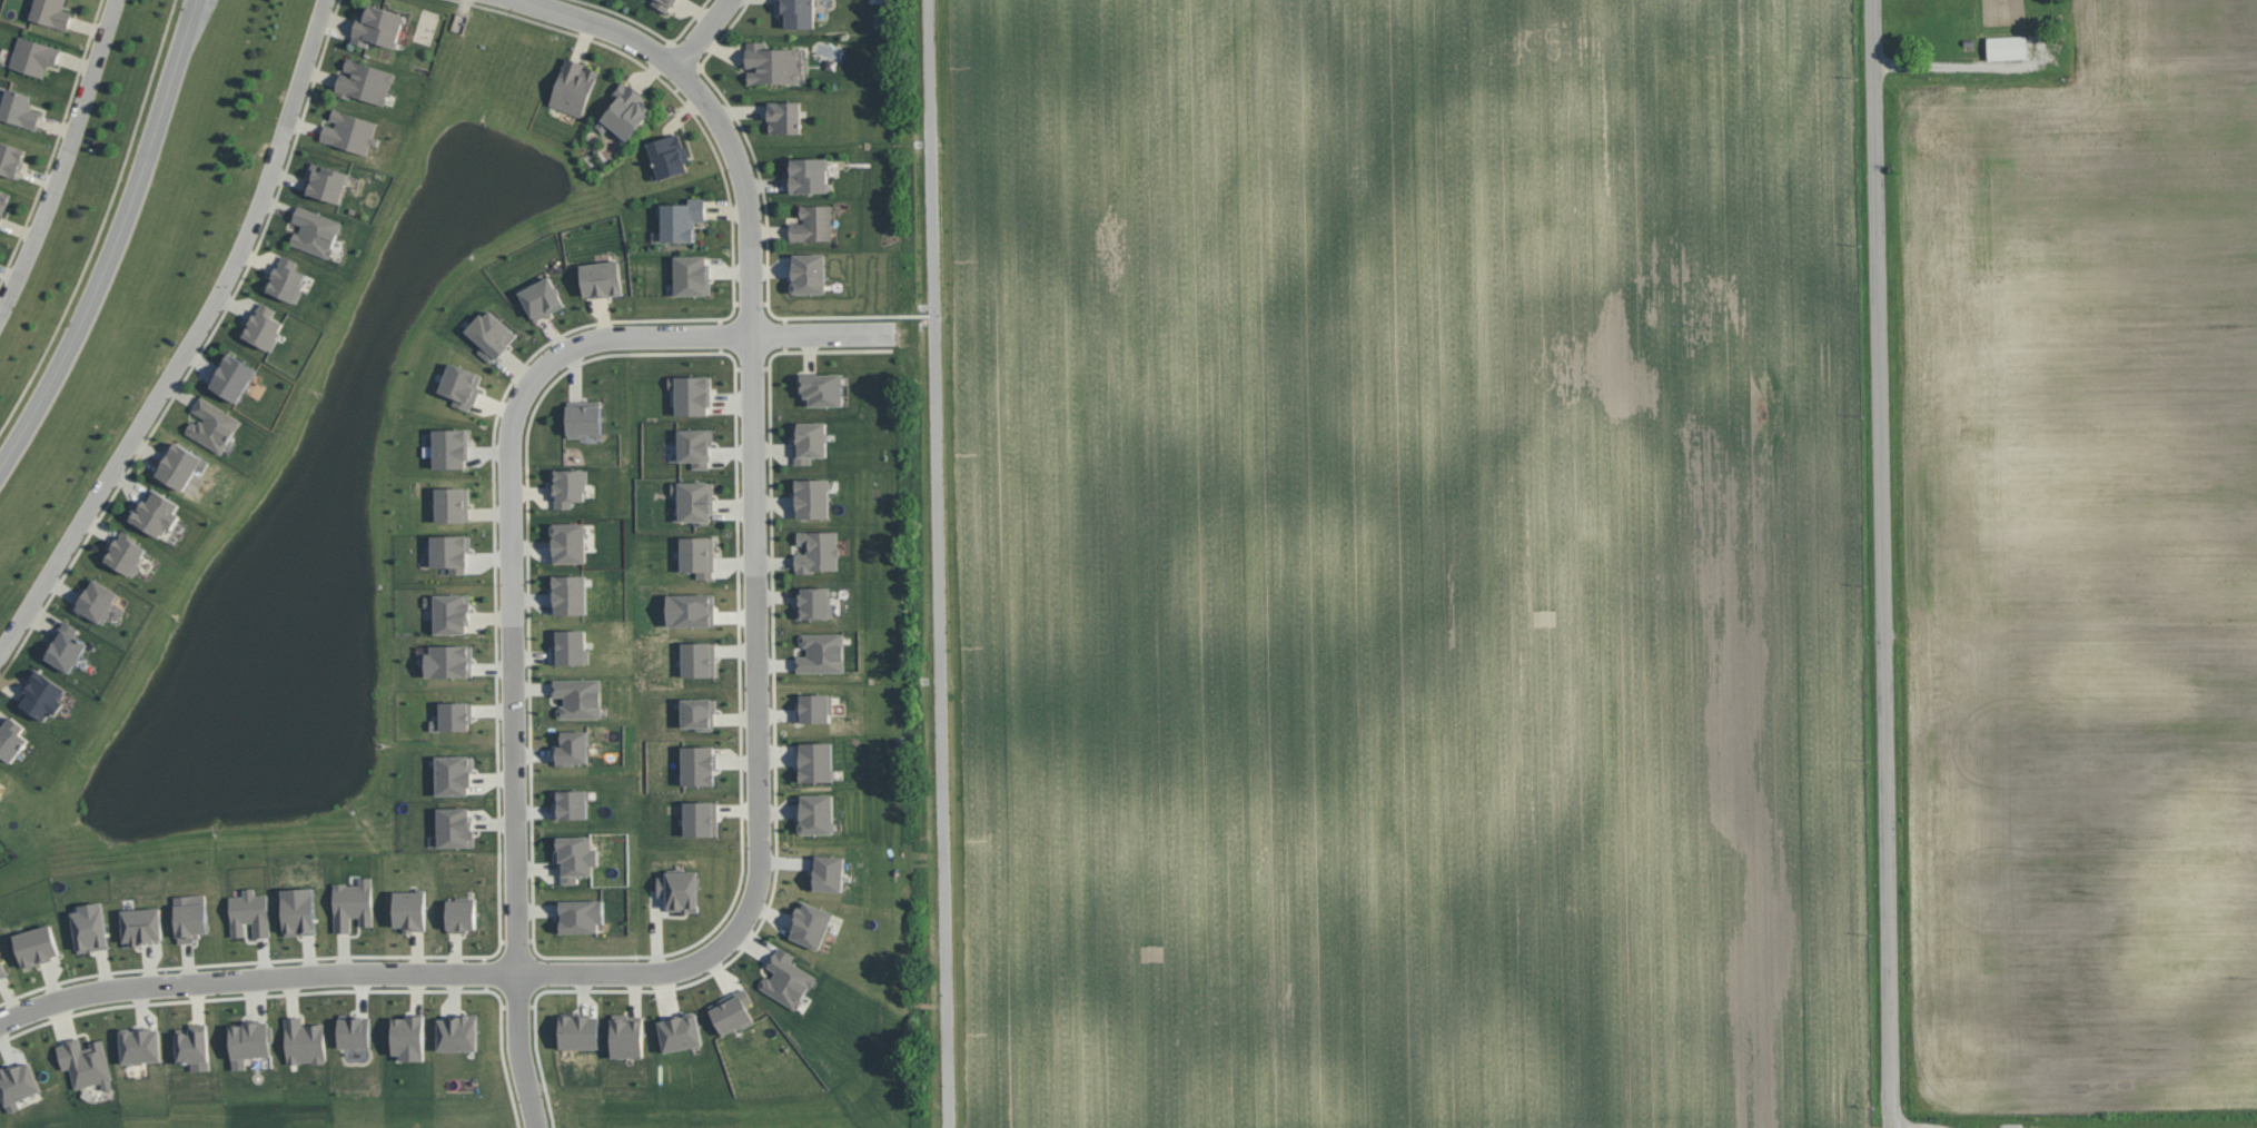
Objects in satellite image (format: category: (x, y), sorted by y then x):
building: (663, 3)
building: (51, 12)
building: (798, 12)
building: (378, 27)
road: (697, 32)
building: (2007, 47)
building: (33, 56)
building: (771, 63)
building: (365, 81)
road: (687, 86)
building: (574, 87)
building: (19, 108)
building: (625, 111)
building: (784, 117)
building: (350, 131)
building: (669, 156)
road: (63, 158)
building: (10, 159)
building: (808, 175)
building: (326, 181)
building: (3, 202)
building: (681, 219)
building: (813, 222)
building: (316, 230)
road: (116, 241)
building: (808, 273)
building: (692, 275)
building: (602, 278)
building: (286, 279)
road: (753, 289)
building: (542, 297)
road: (844, 317)
building: (263, 327)
road: (830, 332)
building: (491, 335)
road: (190, 337)
building: (234, 377)
building: (461, 385)
building: (822, 388)
building: (691, 394)
building: (584, 417)
building: (212, 424)
building: (809, 441)
building: (694, 446)
building: (451, 447)
building: (181, 465)
building: (568, 486)
building: (811, 497)
building: (694, 501)
building: (453, 504)
building: (155, 513)
building: (568, 542)
building: (816, 551)
building: (451, 552)
building: (125, 553)
building: (697, 555)
road: (512, 556)
road: (938, 563)
road: (1881, 563)
building: (570, 593)
building: (96, 601)
building: (814, 603)
building: (690, 610)
building: (451, 612)
building: (570, 645)
building: (65, 646)
building: (821, 652)
building: (699, 659)
building: (448, 661)
building: (42, 694)
building: (578, 697)
building: (814, 708)
building: (699, 713)
building: (454, 715)
building: (12, 739)
building: (572, 748)
road: (762, 750)
building: (815, 761)
building: (697, 764)
building: (454, 774)
building: (0, 778)
building: (0, 779)
building: (572, 803)
building: (816, 813)
building: (701, 818)
building: (455, 827)
building: (576, 858)
building: (826, 872)
building: (680, 890)
building: (353, 903)
building: (410, 910)
building: (299, 911)
building: (250, 912)
building: (462, 914)
building: (580, 914)
building: (190, 917)
building: (810, 923)
building: (142, 924)
building: (90, 927)
building: (37, 946)
building: (2, 968)
road: (256, 977)
building: (786, 979)
building: (732, 1011)
building: (354, 1030)
building: (580, 1030)
building: (680, 1031)
building: (458, 1032)
building: (626, 1035)
building: (408, 1037)
building: (304, 1040)
building: (250, 1041)
building: (140, 1045)
building: (195, 1047)
road: (518, 1052)
building: (86, 1062)
building: (17, 1084)

